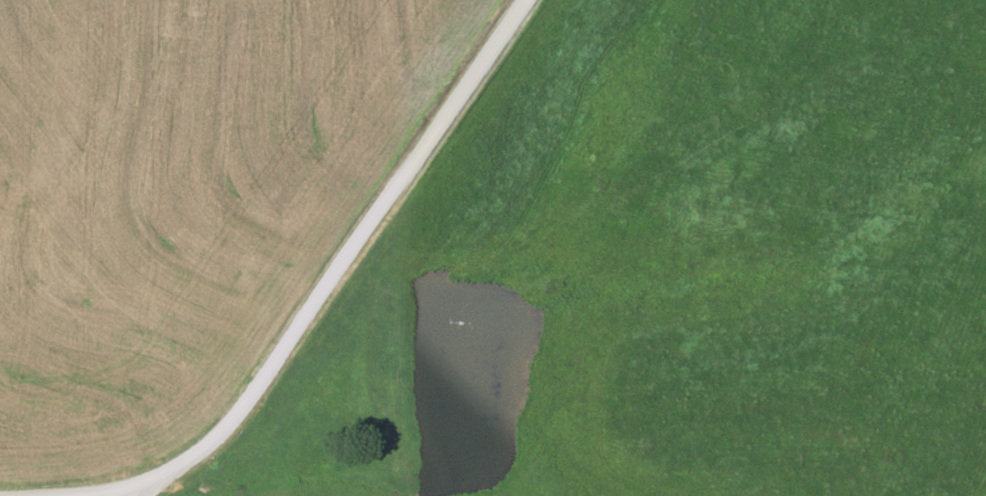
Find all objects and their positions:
road: (349, 262)
road: (112, 490)

